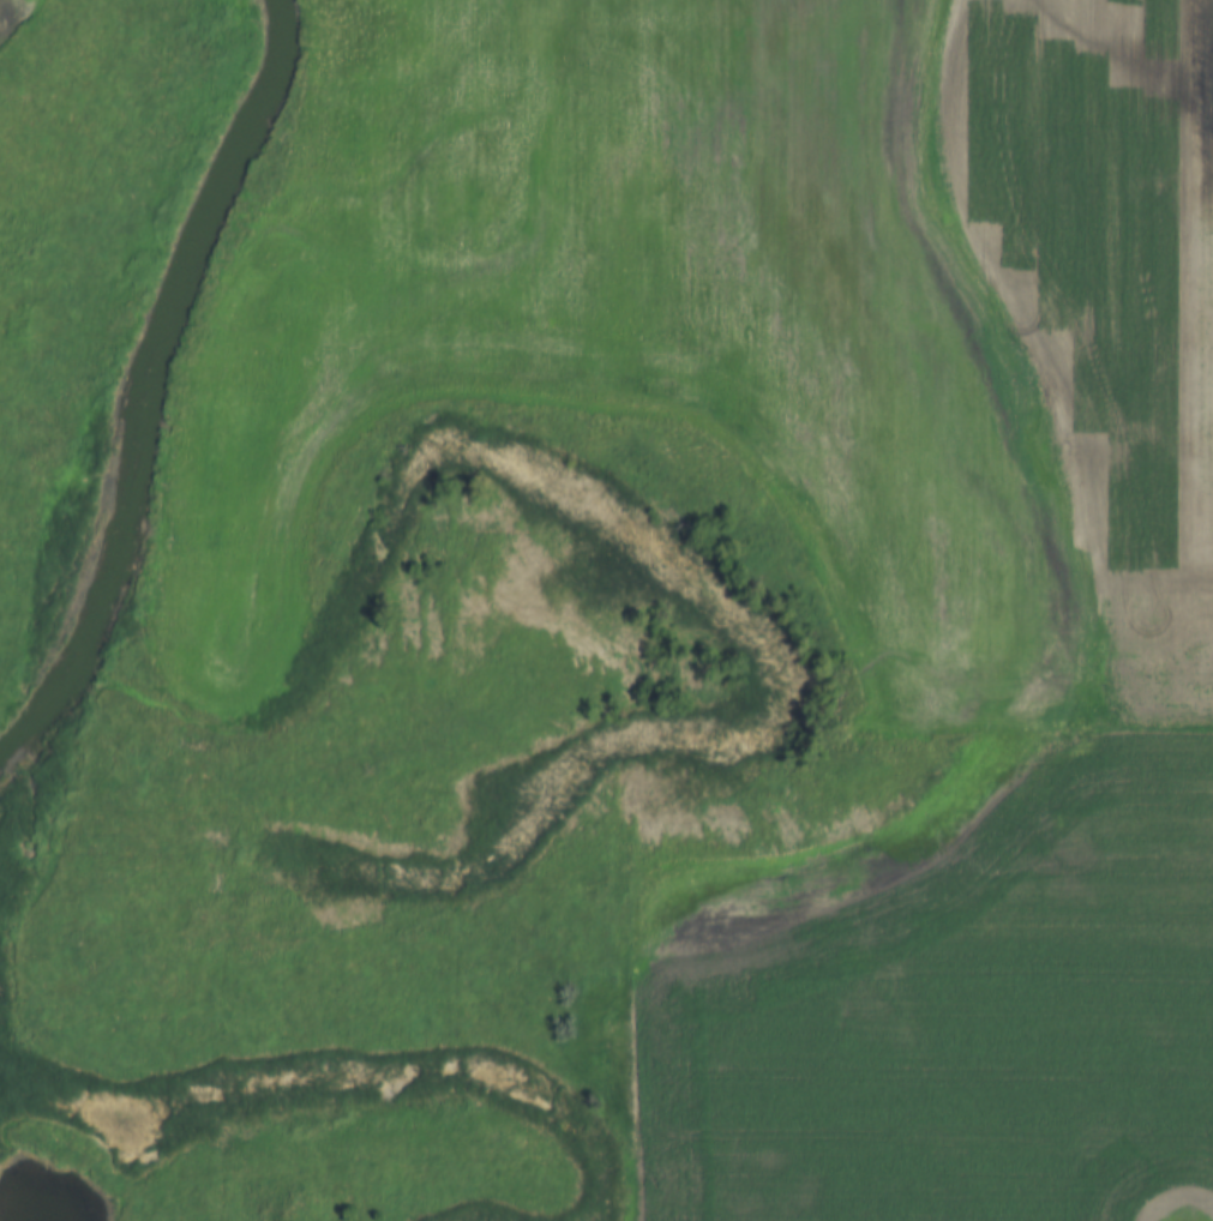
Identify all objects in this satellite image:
river: (134, 395)

